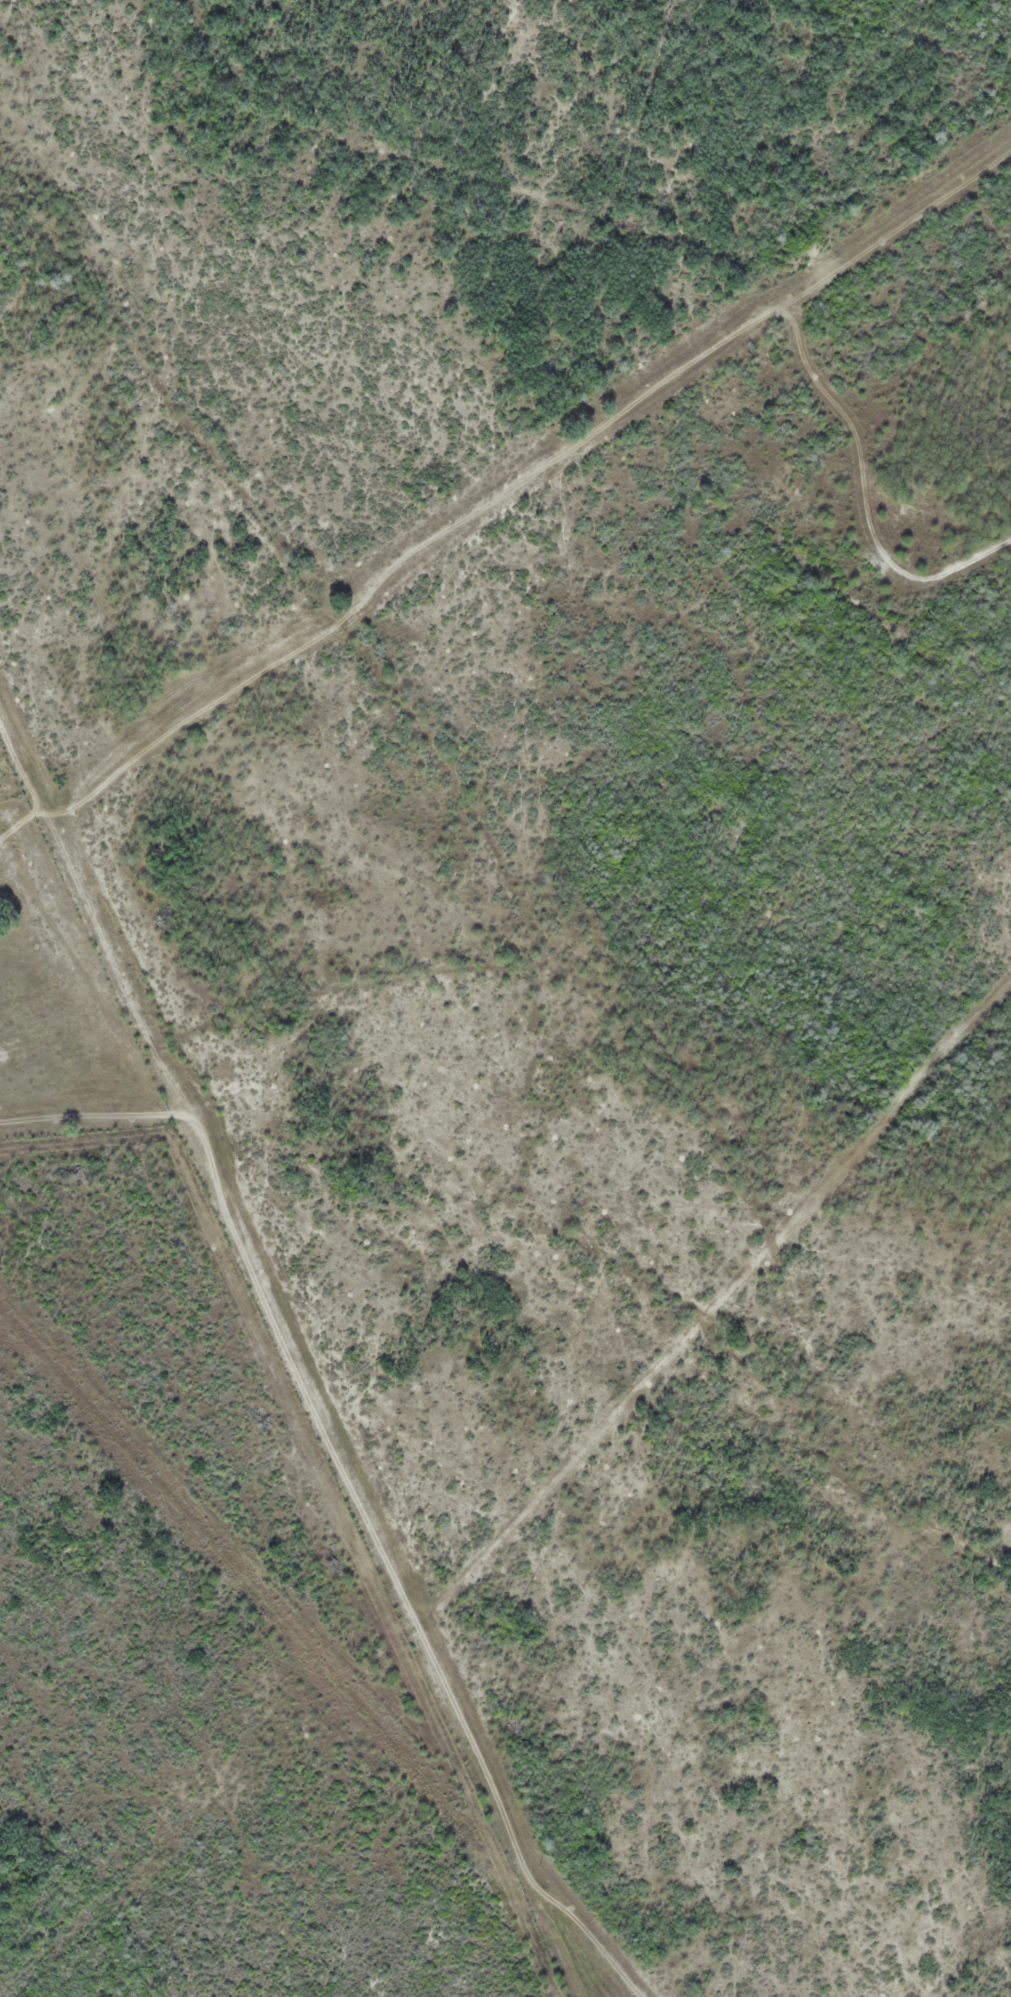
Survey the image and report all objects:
road: (104, 925)
road: (363, 1486)

